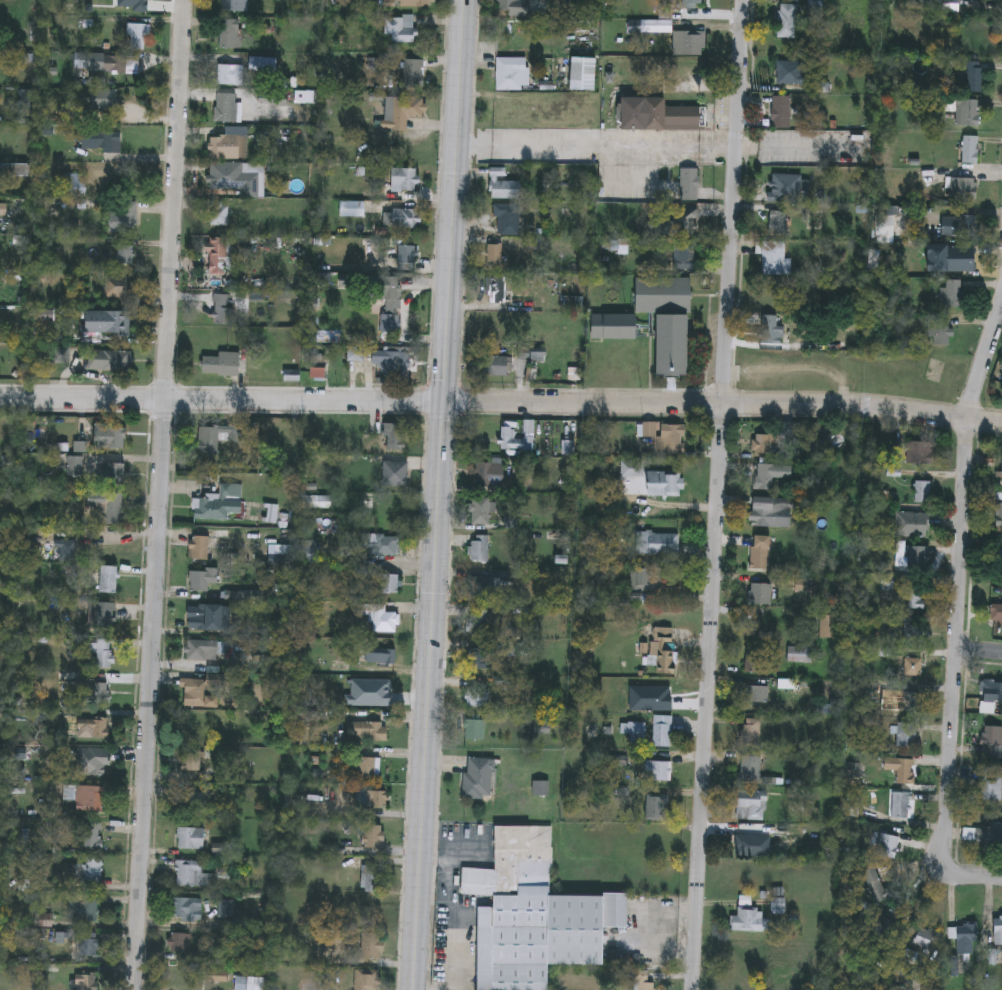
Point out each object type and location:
building: (415, 2)
building: (689, 4)
building: (234, 5)
building: (136, 7)
building: (515, 8)
building: (788, 22)
building: (398, 27)
building: (229, 32)
building: (135, 35)
building: (690, 45)
building: (113, 62)
building: (586, 71)
building: (412, 72)
building: (229, 73)
building: (792, 74)
building: (513, 75)
building: (689, 75)
building: (975, 78)
building: (102, 96)
building: (224, 105)
building: (402, 111)
building: (502, 112)
building: (782, 113)
building: (969, 114)
building: (658, 116)
building: (99, 138)
building: (226, 142)
road: (596, 150)
building: (971, 151)
building: (225, 175)
building: (404, 177)
building: (72, 183)
building: (503, 188)
building: (681, 188)
building: (965, 189)
building: (786, 190)
building: (349, 207)
building: (218, 211)
building: (405, 216)
building: (121, 217)
building: (507, 221)
building: (897, 222)
building: (779, 224)
building: (677, 226)
building: (964, 226)
building: (220, 245)
building: (404, 253)
building: (123, 254)
building: (495, 256)
building: (685, 257)
building: (774, 259)
building: (951, 260)
building: (390, 285)
building: (497, 291)
building: (952, 295)
building: (221, 304)
building: (107, 320)
building: (389, 321)
building: (669, 321)
building: (616, 328)
building: (941, 330)
building: (771, 332)
building: (355, 351)
building: (388, 357)
building: (108, 358)
building: (220, 362)
building: (317, 365)
building: (498, 366)
road: (501, 400)
building: (394, 435)
building: (115, 436)
building: (209, 439)
building: (672, 440)
building: (515, 443)
building: (763, 445)
building: (920, 454)
building: (74, 464)
building: (632, 471)
building: (395, 473)
building: (490, 475)
building: (771, 475)
building: (1000, 475)
building: (665, 485)
building: (922, 493)
road: (717, 494)
road: (160, 495)
road: (439, 495)
building: (110, 496)
building: (220, 502)
building: (999, 511)
building: (775, 512)
building: (483, 513)
building: (912, 525)
building: (383, 545)
building: (657, 545)
building: (198, 547)
building: (66, 549)
building: (479, 550)
building: (309, 551)
building: (761, 553)
building: (997, 558)
building: (202, 578)
building: (108, 579)
building: (389, 582)
building: (645, 582)
road: (958, 585)
building: (483, 588)
building: (888, 588)
building: (761, 595)
building: (917, 595)
building: (106, 614)
building: (996, 615)
building: (197, 617)
building: (378, 617)
building: (478, 623)
building: (829, 628)
building: (912, 631)
building: (659, 648)
building: (203, 649)
building: (103, 653)
road: (978, 653)
building: (380, 655)
building: (800, 656)
building: (476, 659)
building: (755, 662)
building: (913, 667)
building: (95, 690)
building: (996, 692)
building: (199, 693)
building: (755, 695)
building: (477, 697)
building: (906, 701)
building: (92, 728)
building: (367, 730)
building: (474, 730)
building: (633, 730)
building: (663, 732)
building: (751, 732)
building: (907, 736)
building: (992, 743)
building: (191, 759)
building: (96, 761)
building: (368, 766)
building: (751, 770)
building: (659, 772)
building: (904, 772)
building: (479, 779)
building: (989, 785)
building: (89, 797)
building: (375, 798)
building: (190, 803)
building: (900, 806)
building: (752, 807)
building: (657, 808)
building: (92, 834)
building: (373, 836)
building: (190, 837)
building: (989, 838)
building: (744, 846)
building: (888, 847)
building: (84, 871)
building: (191, 873)
building: (372, 877)
road: (972, 880)
building: (875, 885)
building: (84, 907)
building: (778, 907)
building: (188, 908)
road: (456, 911)
building: (746, 915)
building: (535, 916)
building: (998, 932)
building: (926, 939)
building: (965, 940)
building: (180, 943)
building: (88, 945)
building: (371, 946)
building: (366, 978)
building: (85, 980)
building: (642, 982)
building: (256, 983)

